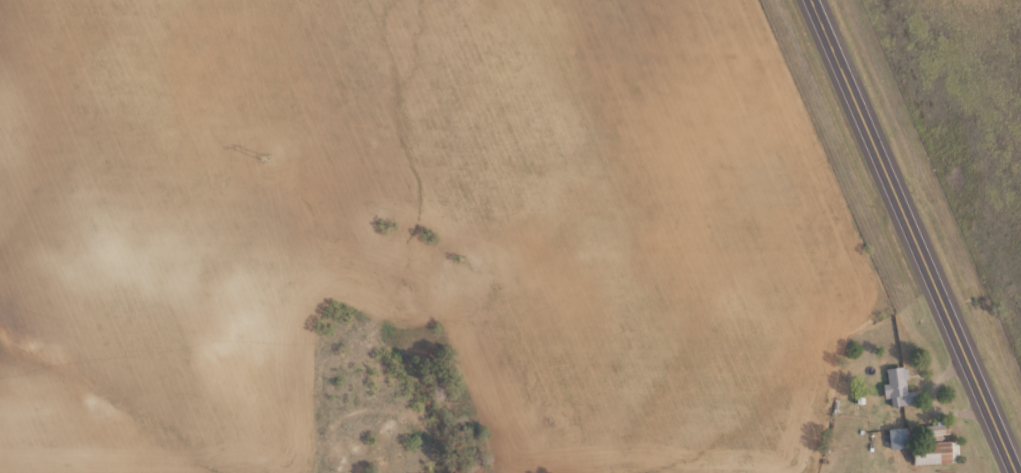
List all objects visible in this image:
power tower: (264, 157)
road: (913, 236)
building: (898, 388)
building: (935, 433)
building: (898, 440)
building: (935, 454)

